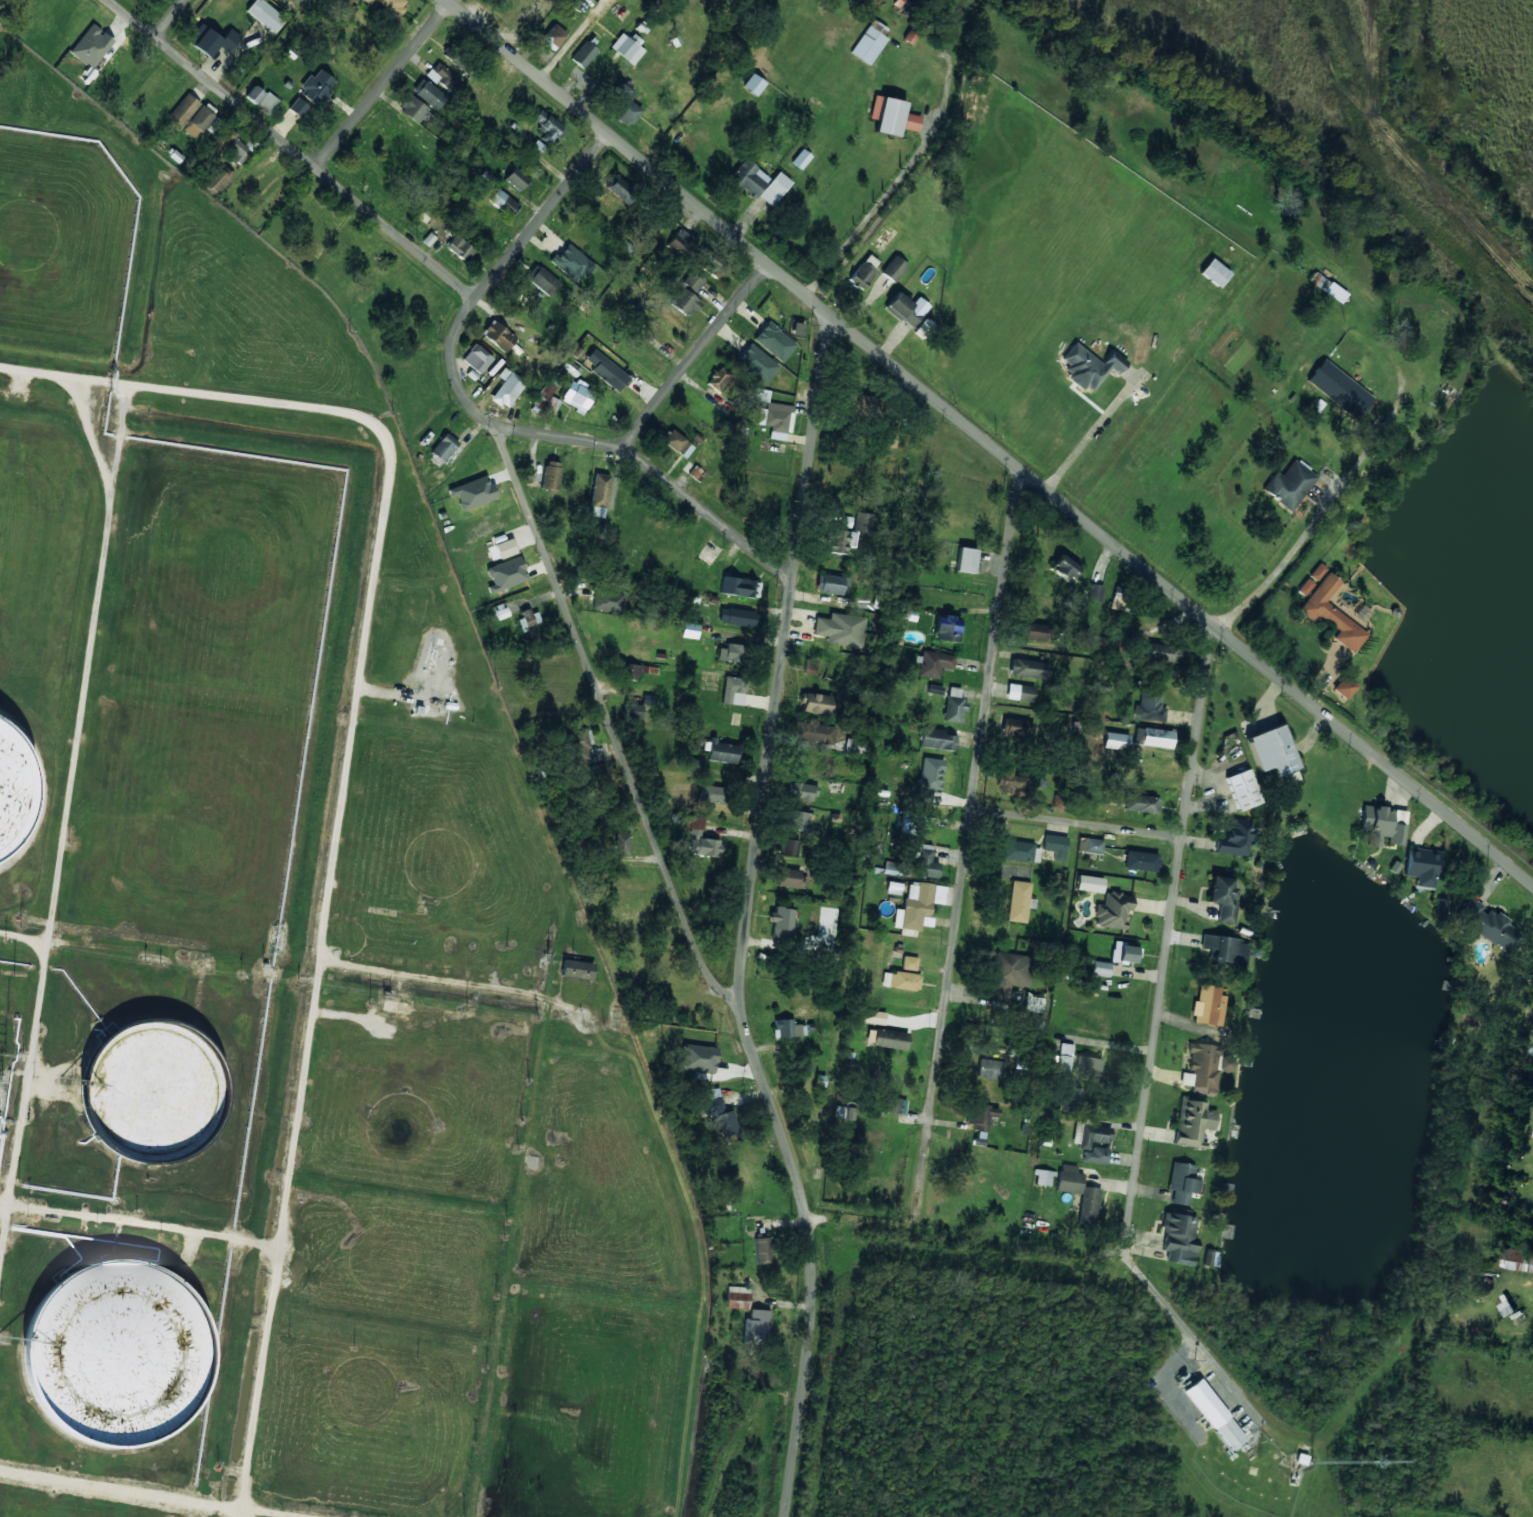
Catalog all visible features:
building: (527, 0)
building: (367, 1)
building: (901, 3)
building: (392, 6)
building: (536, 11)
building: (265, 15)
road: (173, 19)
building: (552, 36)
building: (211, 40)
building: (869, 42)
building: (91, 46)
building: (627, 48)
building: (583, 54)
building: (441, 76)
building: (753, 84)
road: (384, 85)
building: (316, 86)
building: (254, 94)
building: (428, 94)
building: (268, 102)
building: (623, 106)
building: (298, 107)
building: (412, 109)
building: (191, 116)
building: (891, 116)
building: (547, 127)
building: (232, 145)
road: (295, 149)
building: (800, 159)
building: (217, 179)
building: (516, 179)
building: (756, 183)
building: (620, 190)
building: (502, 202)
road: (545, 216)
building: (681, 243)
building: (460, 248)
building: (572, 263)
building: (893, 269)
building: (1214, 272)
building: (863, 273)
building: (543, 280)
building: (687, 294)
building: (903, 309)
building: (797, 328)
building: (498, 336)
building: (774, 341)
road: (697, 356)
building: (477, 358)
building: (756, 363)
building: (1086, 367)
building: (606, 370)
building: (719, 379)
building: (1334, 384)
building: (507, 387)
building: (546, 390)
building: (761, 394)
building: (575, 395)
building: (860, 402)
building: (552, 404)
building: (776, 419)
road: (990, 442)
road: (593, 443)
building: (678, 444)
building: (447, 449)
building: (697, 474)
building: (551, 475)
building: (1289, 485)
building: (473, 492)
building: (598, 495)
building: (863, 522)
building: (841, 541)
building: (965, 560)
building: (1064, 568)
building: (1317, 572)
building: (506, 574)
building: (831, 584)
building: (739, 587)
building: (1304, 587)
building: (1095, 592)
building: (607, 601)
building: (1120, 602)
building: (908, 609)
building: (500, 611)
building: (1331, 614)
building: (733, 617)
building: (526, 620)
building: (840, 629)
building: (948, 629)
building: (1034, 631)
building: (1090, 640)
building: (732, 653)
building: (1170, 653)
building: (934, 663)
building: (1029, 669)
building: (639, 671)
building: (1344, 687)
building: (934, 689)
building: (733, 690)
building: (1020, 692)
building: (649, 696)
building: (815, 703)
building: (1148, 705)
building: (953, 708)
building: (632, 710)
road: (610, 718)
building: (1012, 731)
building: (814, 732)
building: (1156, 737)
building: (936, 739)
building: (1115, 741)
building: (855, 745)
building: (722, 751)
building: (1272, 751)
building: (693, 765)
road: (346, 777)
building: (1011, 783)
building: (10, 788)
storage tank: (10, 788)
building: (1242, 789)
building: (711, 793)
building: (1141, 803)
building: (799, 820)
building: (691, 822)
road: (1078, 823)
building: (1383, 825)
road: (64, 830)
building: (1235, 838)
building: (622, 843)
building: (1090, 845)
building: (704, 846)
building: (1055, 846)
building: (788, 847)
building: (1020, 851)
building: (929, 860)
building: (1141, 861)
building: (1421, 866)
building: (893, 868)
building: (790, 878)
building: (1089, 883)
building: (893, 888)
road: (960, 898)
building: (1222, 898)
building: (918, 905)
building: (1112, 911)
road: (747, 918)
building: (782, 922)
building: (1487, 924)
road: (24, 938)
road: (1169, 938)
building: (1225, 949)
building: (1123, 953)
building: (909, 963)
building: (577, 969)
building: (1099, 969)
building: (1008, 970)
building: (900, 980)
building: (1032, 1005)
building: (1208, 1005)
building: (875, 1017)
building: (788, 1028)
building: (886, 1038)
building: (1532, 1047)
building: (698, 1058)
building: (1087, 1065)
building: (1202, 1068)
building: (989, 1069)
building: (148, 1091)
storage tank: (148, 1091)
building: (894, 1105)
building: (718, 1111)
building: (981, 1115)
building: (1193, 1122)
road: (644, 1127)
building: (1092, 1136)
building: (979, 1139)
building: (1096, 1155)
building: (1043, 1177)
building: (1181, 1182)
building: (1079, 1193)
building: (1179, 1238)
building: (762, 1250)
road: (511, 1257)
building: (1211, 1258)
building: (1518, 1259)
building: (737, 1297)
building: (755, 1327)
building: (106, 1347)
storage tank: (106, 1347)
building: (1214, 1414)
road: (153, 1494)

